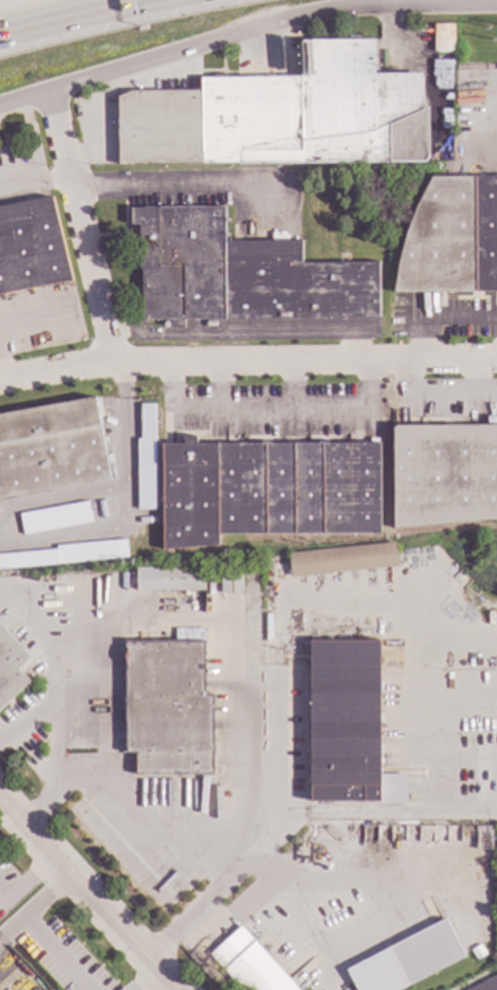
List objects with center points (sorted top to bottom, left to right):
road: (66, 15)
road: (244, 30)
building: (442, 37)
building: (442, 87)
building: (282, 115)
road: (35, 182)
road: (179, 190)
road: (81, 222)
building: (451, 237)
building: (30, 246)
building: (239, 273)
road: (447, 322)
building: (290, 329)
road: (240, 334)
road: (247, 356)
road: (471, 376)
road: (216, 382)
road: (292, 382)
road: (434, 395)
road: (270, 409)
building: (491, 420)
building: (51, 448)
building: (145, 456)
building: (443, 474)
building: (266, 489)
road: (61, 497)
road: (124, 503)
building: (54, 518)
building: (102, 550)
building: (342, 559)
building: (169, 578)
building: (230, 578)
road: (345, 599)
building: (343, 629)
building: (188, 633)
building: (10, 667)
road: (51, 669)
building: (166, 707)
building: (347, 723)
road: (53, 766)
road: (382, 810)
building: (482, 837)
road: (184, 849)
road: (244, 850)
road: (265, 859)
road: (29, 878)
road: (88, 896)
road: (3, 898)
road: (240, 905)
road: (32, 932)
building: (477, 951)
building: (406, 959)
building: (249, 964)
road: (144, 978)
building: (486, 984)

